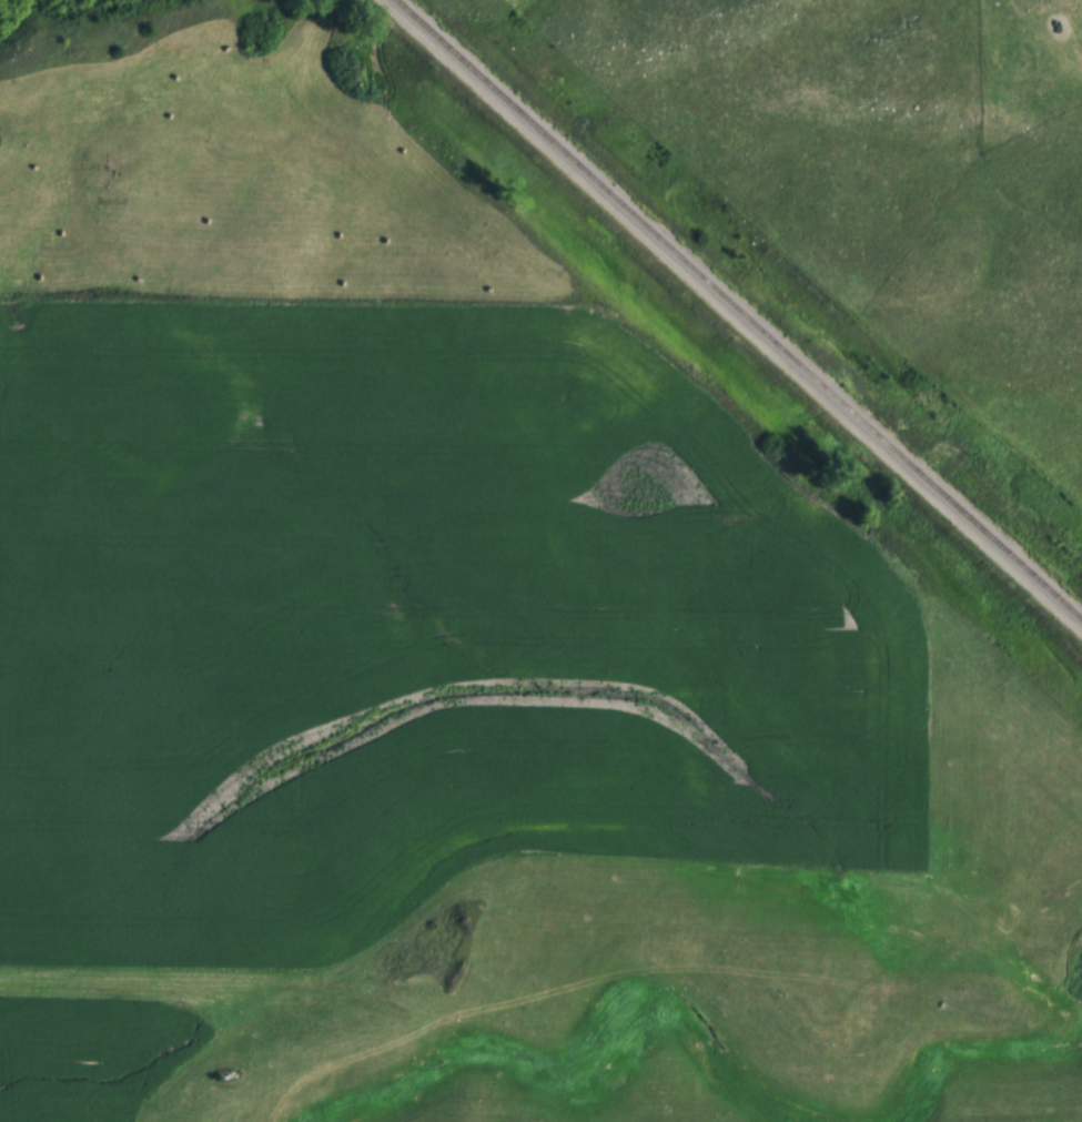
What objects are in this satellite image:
railway: (738, 310)

